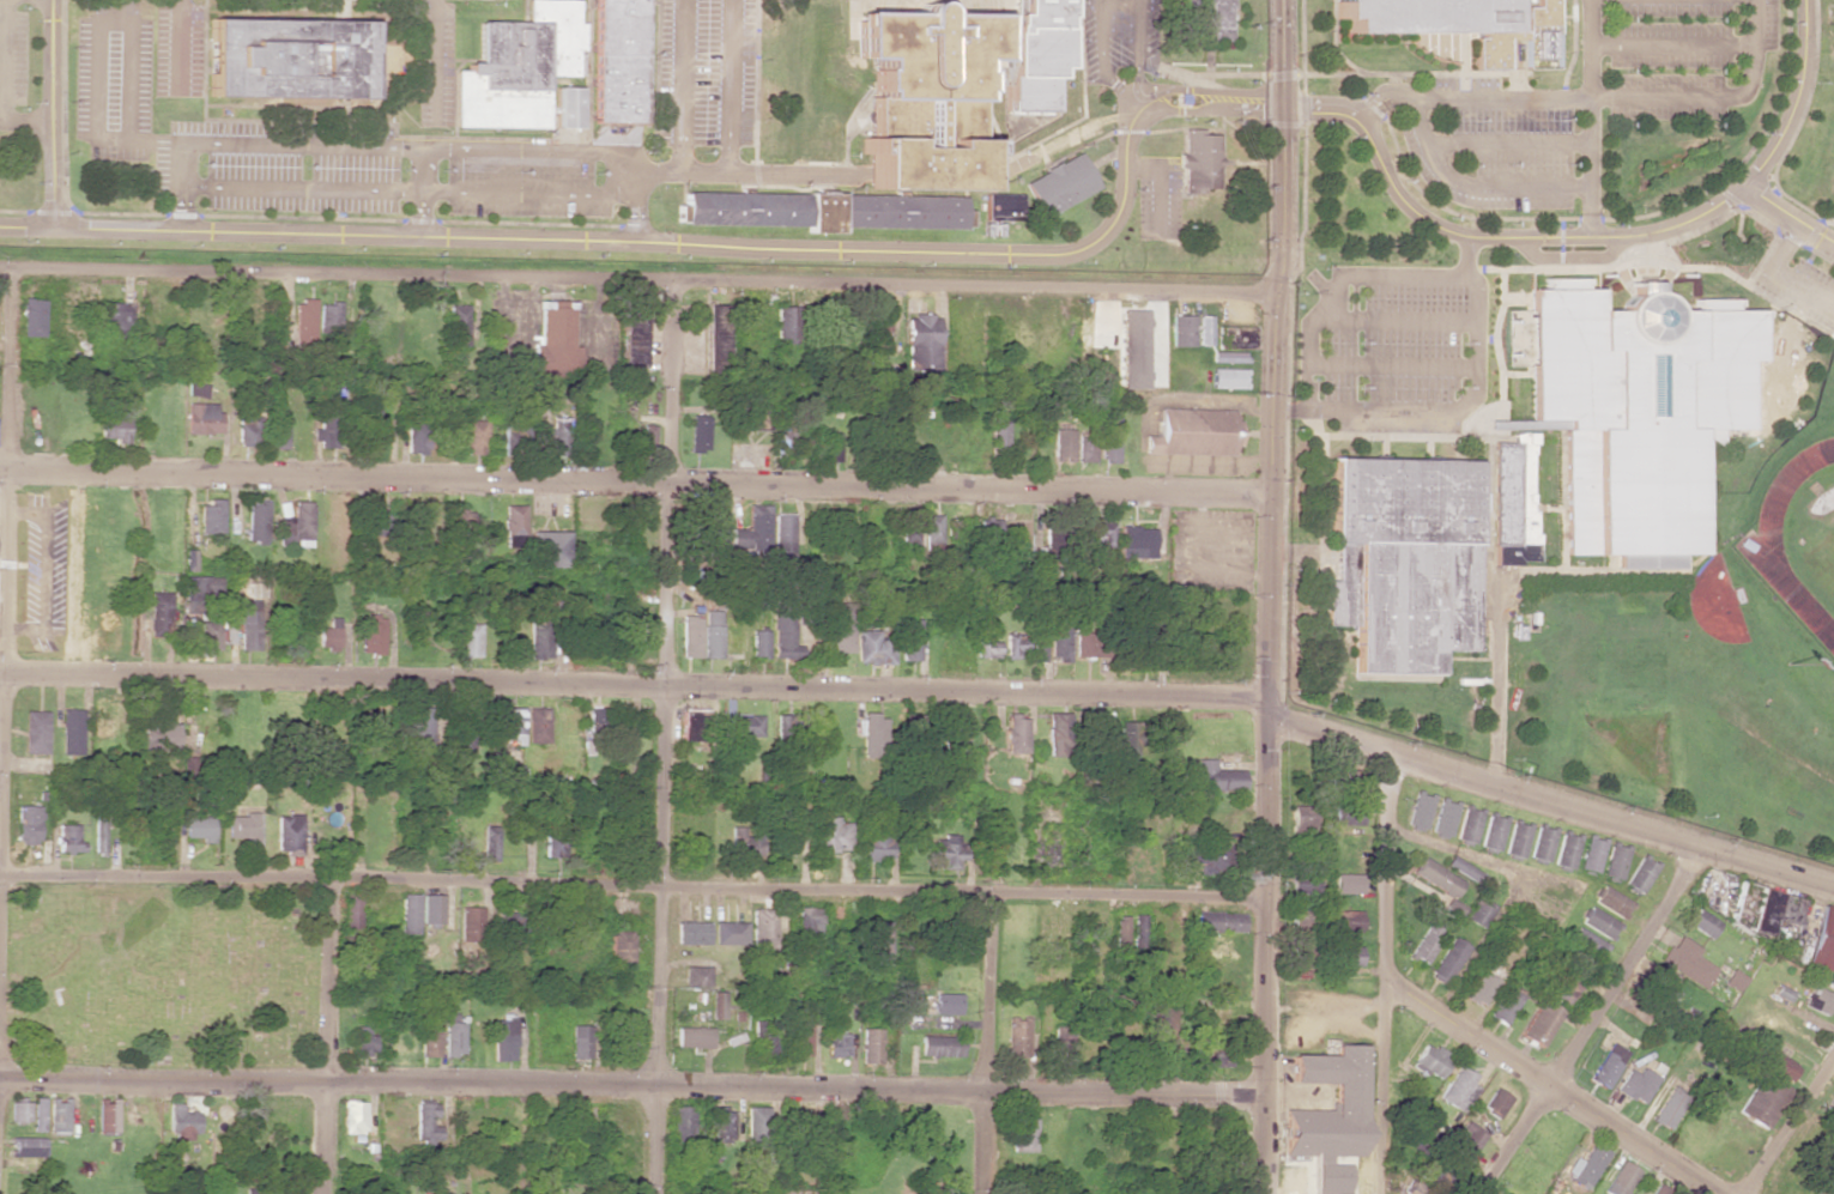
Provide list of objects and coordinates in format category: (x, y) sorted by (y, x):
road: (930, 1)
road: (1139, 1)
road: (525, 11)
building: (1206, 19)
building: (1446, 22)
parking lot: (1116, 36)
road: (1139, 37)
road: (1332, 37)
building: (1535, 38)
road: (1572, 44)
road: (1101, 46)
road: (1671, 46)
road: (177, 47)
parking lot: (177, 50)
building: (1035, 51)
building: (287, 57)
parking lot: (12, 60)
building: (619, 60)
road: (434, 62)
parking lot: (435, 63)
road: (96, 65)
building: (519, 67)
parking lot: (703, 72)
road: (127, 80)
road: (680, 86)
road: (2, 87)
road: (728, 87)
road: (1198, 90)
road: (755, 92)
building: (924, 96)
road: (1623, 97)
road: (1796, 98)
parking lot: (1586, 101)
building: (565, 108)
road: (65, 109)
road: (55, 113)
road: (1587, 119)
road: (399, 135)
road: (110, 139)
parking lot: (223, 139)
road: (156, 140)
road: (1506, 143)
road: (303, 144)
road: (527, 149)
building: (1198, 159)
road: (749, 175)
road: (1443, 175)
building: (1059, 184)
road: (1157, 184)
road: (184, 186)
parking lot: (523, 187)
road: (302, 188)
road: (420, 192)
road: (527, 192)
road: (635, 196)
parking lot: (1157, 196)
building: (1001, 206)
building: (822, 211)
road: (1787, 214)
road: (317, 218)
road: (1489, 237)
road: (690, 244)
road: (1465, 256)
road: (1568, 257)
road: (1778, 274)
parking lot: (1800, 279)
road: (637, 281)
road: (1336, 285)
building: (328, 316)
building: (32, 317)
building: (117, 320)
building: (304, 320)
road: (1391, 320)
building: (786, 322)
building: (458, 325)
building: (877, 329)
building: (1180, 331)
building: (1204, 331)
building: (632, 338)
building: (1235, 339)
building: (714, 340)
building: (553, 341)
building: (920, 341)
road: (1273, 347)
parking lot: (1392, 347)
building: (1130, 352)
building: (1227, 357)
road: (1391, 364)
building: (1228, 377)
building: (196, 389)
road: (1436, 410)
building: (1636, 411)
building: (747, 412)
building: (202, 418)
building: (115, 428)
building: (368, 429)
building: (250, 430)
building: (327, 430)
building: (1192, 430)
building: (278, 434)
building: (698, 434)
building: (998, 434)
building: (558, 436)
building: (474, 437)
building: (781, 437)
building: (416, 438)
building: (1107, 440)
building: (1061, 443)
building: (1084, 446)
building: (829, 447)
road: (634, 480)
building: (1513, 503)
building: (428, 515)
building: (210, 516)
road: (6, 520)
building: (513, 520)
building: (255, 521)
building: (458, 521)
building: (377, 523)
building: (296, 526)
building: (718, 527)
building: (955, 528)
building: (909, 529)
building: (932, 529)
building: (751, 531)
building: (1097, 533)
building: (782, 535)
building: (988, 535)
building: (1134, 539)
building: (1052, 545)
track: (1757, 547)
building: (549, 550)
building: (1403, 559)
building: (188, 560)
park: (1822, 563)
building: (201, 589)
building: (159, 613)
building: (248, 625)
building: (839, 628)
building: (373, 634)
building: (208, 635)
building: (537, 635)
building: (1059, 635)
building: (690, 636)
building: (710, 636)
building: (782, 636)
building: (328, 637)
building: (467, 637)
building: (910, 640)
building: (758, 643)
building: (1143, 643)
building: (986, 644)
building: (1015, 644)
building: (1085, 644)
building: (872, 648)
building: (1039, 649)
road: (632, 685)
road: (1267, 709)
building: (597, 719)
building: (103, 720)
building: (510, 725)
building: (537, 725)
building: (746, 725)
building: (694, 726)
building: (420, 727)
building: (786, 727)
building: (957, 729)
building: (35, 732)
building: (71, 732)
building: (1073, 732)
building: (1016, 733)
building: (1130, 734)
building: (157, 735)
building: (870, 735)
road: (662, 738)
building: (461, 744)
building: (504, 772)
building: (1217, 777)
building: (1344, 796)
road: (1551, 799)
building: (1418, 808)
building: (1442, 817)
building: (1301, 818)
building: (1467, 823)
building: (28, 824)
building: (240, 826)
building: (199, 829)
building: (1491, 831)
building: (99, 832)
building: (287, 834)
building: (782, 834)
building: (830, 834)
building: (68, 837)
building: (1515, 838)
building: (744, 842)
building: (874, 842)
building: (1542, 842)
building: (489, 843)
building: (552, 847)
building: (1566, 849)
building: (948, 850)
building: (1591, 853)
building: (1120, 857)
building: (1136, 859)
building: (1150, 859)
building: (1614, 860)
building: (1213, 861)
building: (1463, 869)
building: (1640, 873)
building: (1435, 877)
building: (1303, 879)
road: (630, 883)
building: (1346, 884)
building: (1610, 902)
building: (430, 909)
building: (1478, 913)
building: (407, 914)
building: (1763, 914)
building: (807, 921)
building: (1218, 921)
building: (1346, 921)
building: (1597, 922)
building: (1702, 922)
building: (470, 923)
building: (513, 923)
building: (762, 926)
building: (1120, 932)
building: (691, 933)
building: (730, 933)
building: (878, 939)
building: (1424, 941)
building: (1822, 941)
building: (1584, 945)
building: (618, 947)
building: (1306, 956)
building: (1344, 956)
road: (1261, 957)
building: (1446, 960)
building: (1688, 962)
road: (1385, 971)
building: (696, 976)
building: (1735, 980)
building: (1479, 987)
building: (1561, 988)
building: (1663, 989)
building: (1818, 1001)
building: (946, 1004)
building: (716, 1005)
building: (1503, 1007)
building: (1216, 1017)
road: (1586, 1019)
building: (1538, 1023)
building: (800, 1034)
road: (325, 1036)
building: (452, 1036)
building: (1162, 1036)
building: (694, 1037)
building: (1017, 1037)
building: (428, 1038)
building: (362, 1040)
building: (503, 1040)
building: (761, 1040)
building: (580, 1041)
road: (993, 1042)
building: (835, 1044)
building: (871, 1045)
building: (942, 1045)
building: (1060, 1051)
building: (1218, 1059)
building: (1430, 1061)
building: (1606, 1065)
building: (1779, 1066)
road: (1548, 1085)
building: (1635, 1085)
road: (630, 1087)
building: (1458, 1089)
building: (1346, 1096)
building: (1761, 1101)
building: (1495, 1102)
building: (1667, 1108)
building: (18, 1111)
building: (36, 1114)
building: (56, 1115)
building: (105, 1115)
building: (352, 1117)
building: (755, 1121)
building: (180, 1122)
building: (424, 1122)
building: (721, 1123)
building: (679, 1126)
road: (1791, 1127)
building: (1022, 1134)
building: (1469, 1139)
building: (25, 1147)
building: (1585, 1165)
building: (1620, 1178)
building: (1660, 1189)
building: (254, 1190)
building: (1421, 1190)
building: (1817, 1192)

